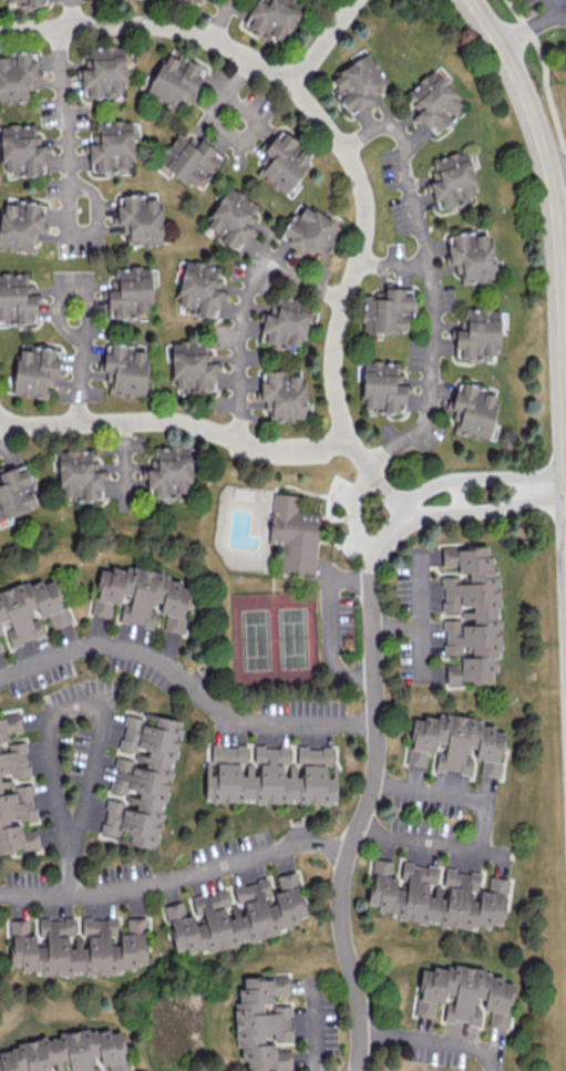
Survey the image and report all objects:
building: (23, 1)
building: (195, 2)
road: (546, 8)
road: (80, 12)
building: (272, 17)
road: (227, 21)
road: (529, 25)
road: (322, 41)
building: (104, 72)
building: (18, 76)
building: (174, 81)
building: (358, 83)
road: (548, 89)
road: (231, 91)
building: (434, 100)
road: (329, 130)
building: (112, 145)
building: (22, 150)
building: (188, 158)
building: (282, 162)
road: (556, 168)
road: (66, 174)
building: (452, 178)
building: (231, 217)
building: (141, 219)
building: (20, 224)
building: (311, 233)
road: (555, 233)
building: (472, 256)
road: (426, 280)
building: (199, 288)
building: (130, 290)
building: (17, 297)
road: (248, 300)
building: (385, 310)
building: (286, 323)
road: (563, 330)
building: (477, 333)
building: (192, 365)
road: (76, 368)
building: (125, 369)
building: (34, 371)
building: (382, 385)
building: (284, 395)
building: (474, 411)
road: (3, 418)
road: (181, 424)
road: (3, 428)
road: (123, 460)
building: (169, 470)
building: (79, 475)
road: (476, 477)
building: (16, 491)
road: (388, 495)
road: (457, 495)
road: (513, 501)
road: (351, 512)
road: (431, 512)
road: (389, 532)
building: (294, 535)
road: (289, 574)
building: (142, 597)
building: (30, 610)
building: (471, 614)
road: (419, 615)
road: (327, 621)
park: (274, 639)
building: (0, 649)
road: (186, 687)
road: (56, 709)
building: (455, 743)
building: (269, 775)
building: (141, 779)
building: (14, 791)
road: (366, 811)
road: (482, 830)
road: (177, 883)
building: (435, 895)
building: (235, 915)
building: (76, 946)
building: (464, 995)
building: (263, 1022)
road: (318, 1030)
road: (433, 1043)
building: (68, 1052)

